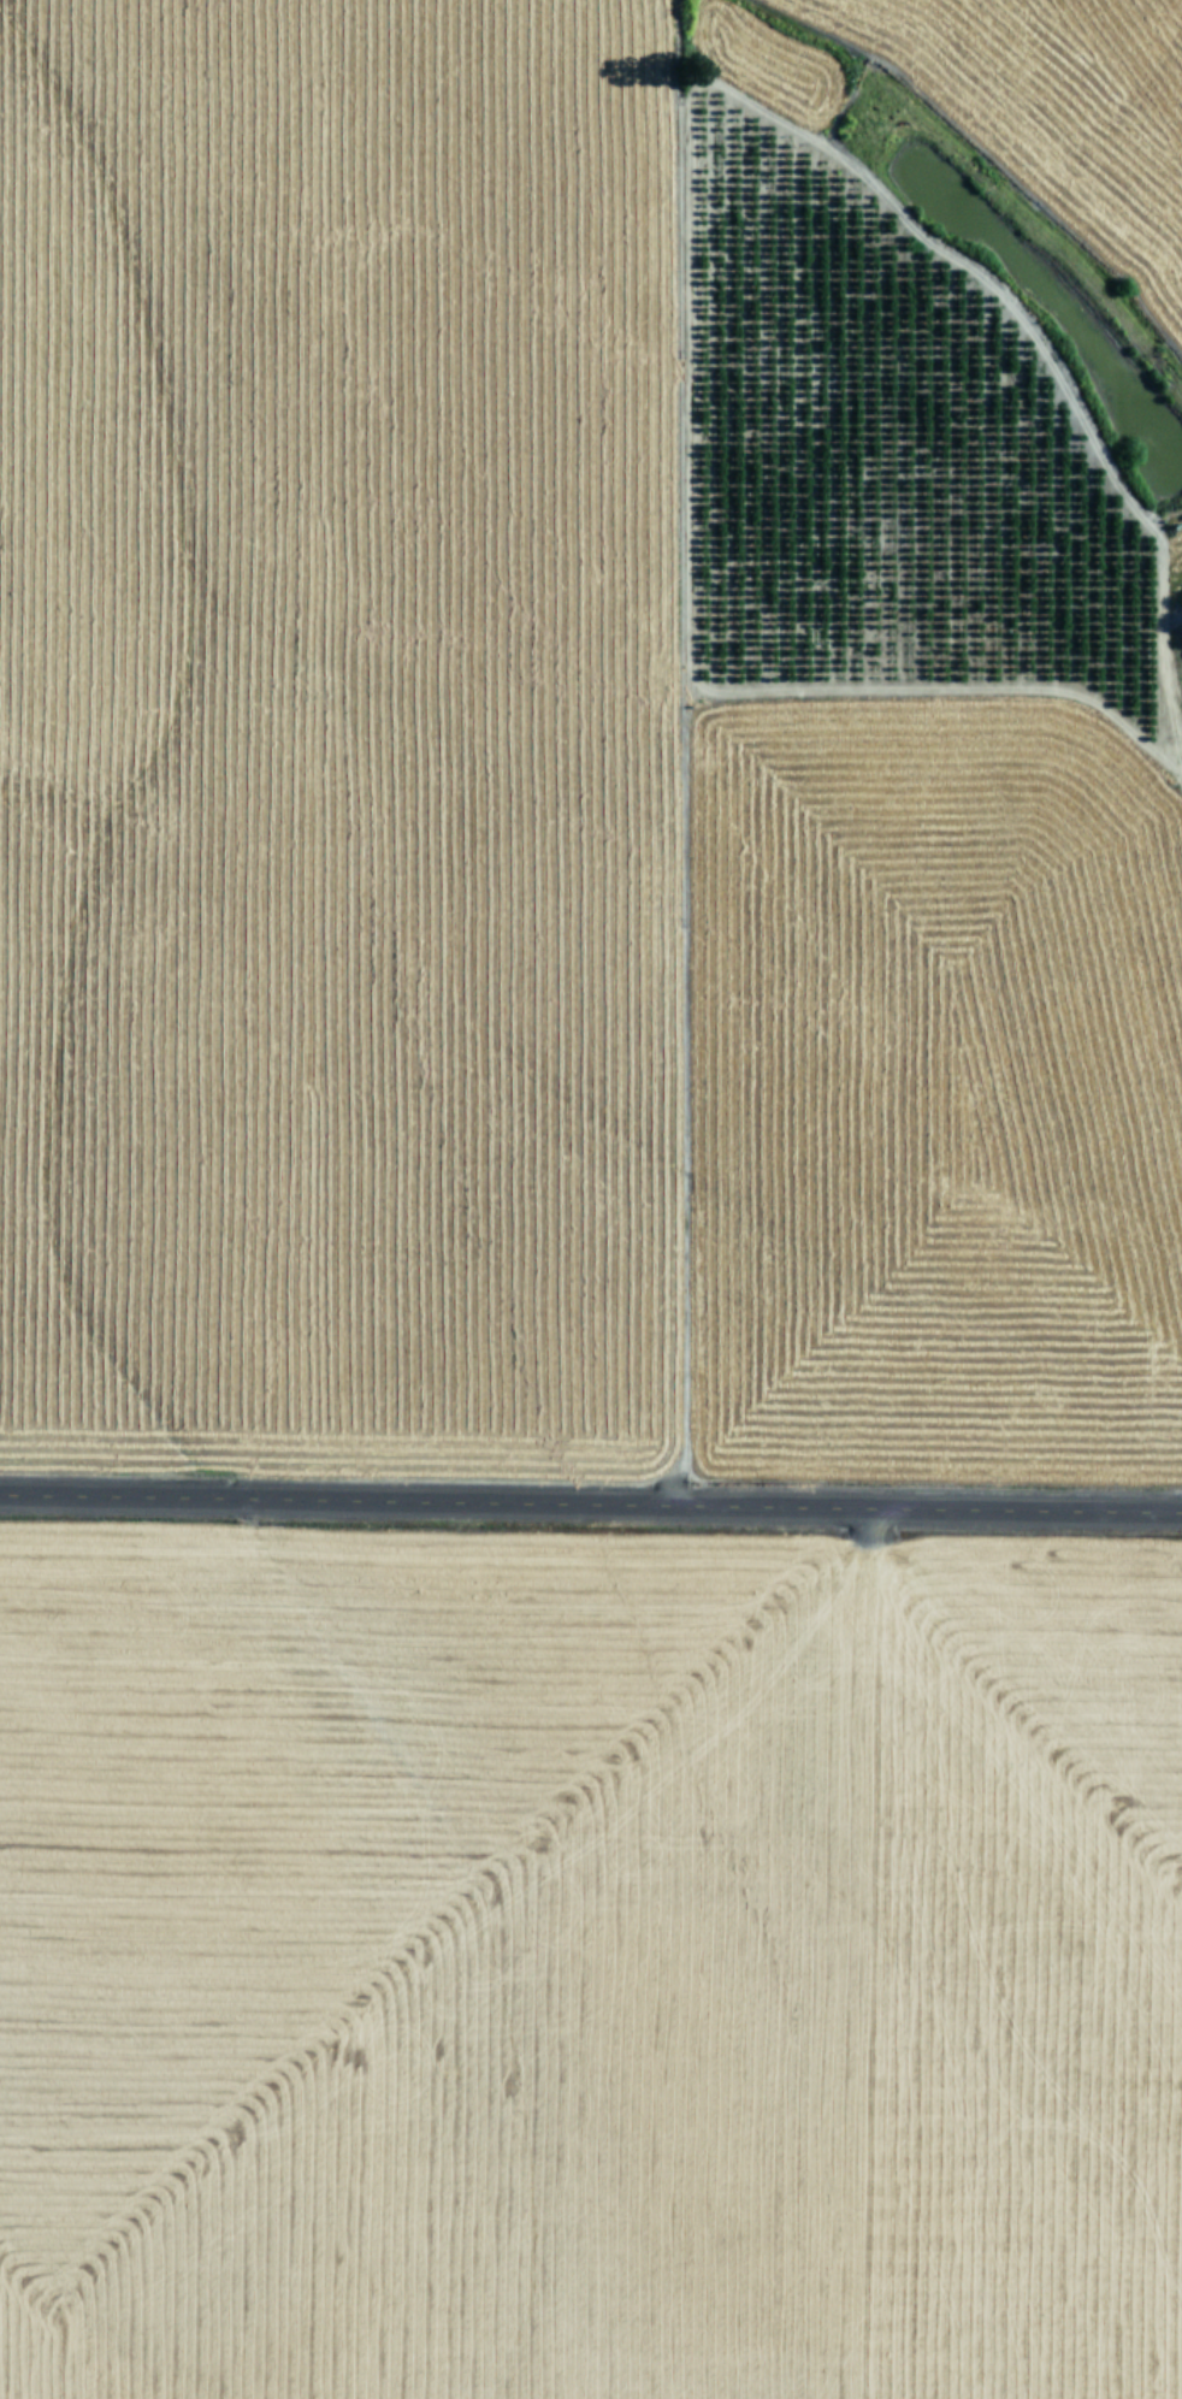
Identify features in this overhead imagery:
crop: (592, 728)
road: (591, 1496)
crop: (590, 1974)

